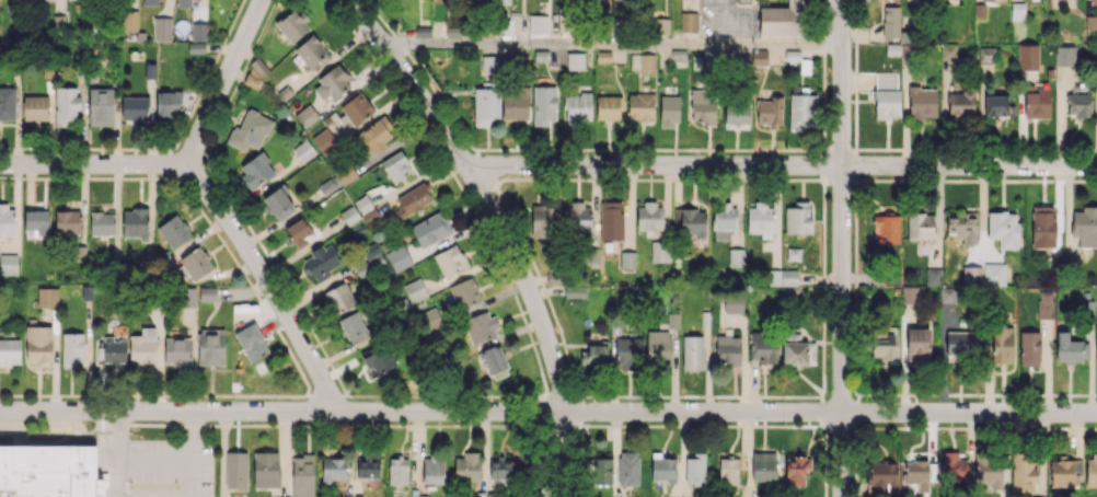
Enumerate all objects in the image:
building: (621, 0)
building: (911, 0)
building: (988, 0)
building: (149, 2)
building: (184, 2)
building: (1094, 2)
building: (1017, 11)
building: (130, 20)
building: (780, 20)
building: (689, 21)
building: (890, 21)
building: (292, 24)
building: (538, 24)
building: (660, 25)
building: (161, 28)
building: (198, 32)
road: (613, 43)
building: (196, 47)
building: (948, 50)
building: (311, 53)
building: (985, 55)
building: (1065, 55)
building: (1028, 56)
building: (748, 59)
building: (575, 60)
building: (643, 62)
building: (489, 63)
building: (150, 71)
building: (255, 73)
road: (408, 80)
road: (222, 82)
building: (332, 83)
building: (886, 94)
building: (922, 101)
building: (1037, 102)
building: (7, 103)
building: (168, 103)
building: (66, 104)
building: (544, 104)
building: (960, 104)
building: (1078, 104)
building: (997, 105)
building: (101, 106)
building: (485, 106)
building: (640, 106)
building: (703, 106)
building: (35, 107)
building: (515, 107)
building: (608, 107)
building: (134, 108)
building: (356, 108)
building: (577, 108)
building: (669, 109)
building: (769, 111)
building: (801, 111)
building: (305, 115)
building: (736, 116)
building: (249, 131)
building: (374, 136)
building: (325, 139)
building: (303, 150)
road: (92, 163)
building: (396, 165)
road: (781, 165)
building: (256, 170)
building: (345, 174)
building: (326, 185)
building: (370, 197)
building: (413, 200)
building: (279, 201)
building: (649, 217)
building: (798, 218)
building: (578, 219)
building: (761, 219)
building: (7, 220)
building: (611, 220)
building: (68, 221)
building: (544, 221)
building: (724, 221)
building: (102, 222)
building: (692, 222)
building: (35, 223)
building: (135, 223)
building: (923, 226)
building: (1085, 226)
building: (962, 227)
building: (1042, 227)
building: (1003, 228)
building: (430, 229)
building: (886, 229)
building: (173, 231)
building: (298, 232)
road: (842, 247)
building: (660, 251)
building: (793, 254)
building: (591, 256)
building: (397, 257)
building: (736, 257)
building: (627, 259)
building: (450, 261)
building: (322, 262)
building: (370, 263)
building: (8, 264)
building: (193, 264)
building: (993, 274)
building: (971, 275)
building: (933, 276)
building: (783, 277)
road: (267, 284)
road: (526, 284)
building: (415, 290)
building: (575, 291)
building: (464, 292)
building: (207, 293)
building: (909, 293)
building: (947, 293)
building: (47, 297)
building: (187, 297)
building: (339, 298)
building: (1044, 304)
building: (732, 305)
building: (672, 320)
building: (481, 326)
building: (353, 327)
building: (251, 343)
building: (959, 343)
building: (37, 344)
building: (917, 344)
building: (1002, 344)
building: (1096, 344)
building: (886, 345)
building: (143, 346)
building: (210, 347)
building: (658, 347)
building: (763, 347)
building: (72, 348)
building: (1029, 348)
building: (1071, 348)
building: (728, 349)
building: (113, 350)
building: (10, 351)
building: (177, 351)
building: (627, 351)
building: (692, 351)
building: (798, 352)
building: (593, 355)
building: (376, 360)
building: (495, 361)
road: (547, 411)
parking lot: (41, 420)
road: (118, 424)
road: (193, 425)
road: (561, 455)
road: (154, 460)
parking lot: (161, 465)
building: (368, 465)
road: (117, 466)
building: (763, 466)
building: (954, 466)
road: (190, 467)
building: (467, 467)
building: (333, 469)
building: (503, 469)
building: (627, 469)
building: (663, 469)
building: (796, 469)
building: (235, 470)
building: (265, 470)
building: (432, 470)
building: (695, 470)
building: (1092, 470)
building: (397, 471)
building: (599, 471)
building: (728, 471)
building: (988, 471)
building: (48, 472)
building: (1024, 473)
building: (1064, 473)
building: (916, 474)
building: (302, 475)
building: (882, 476)
building: (418, 496)

